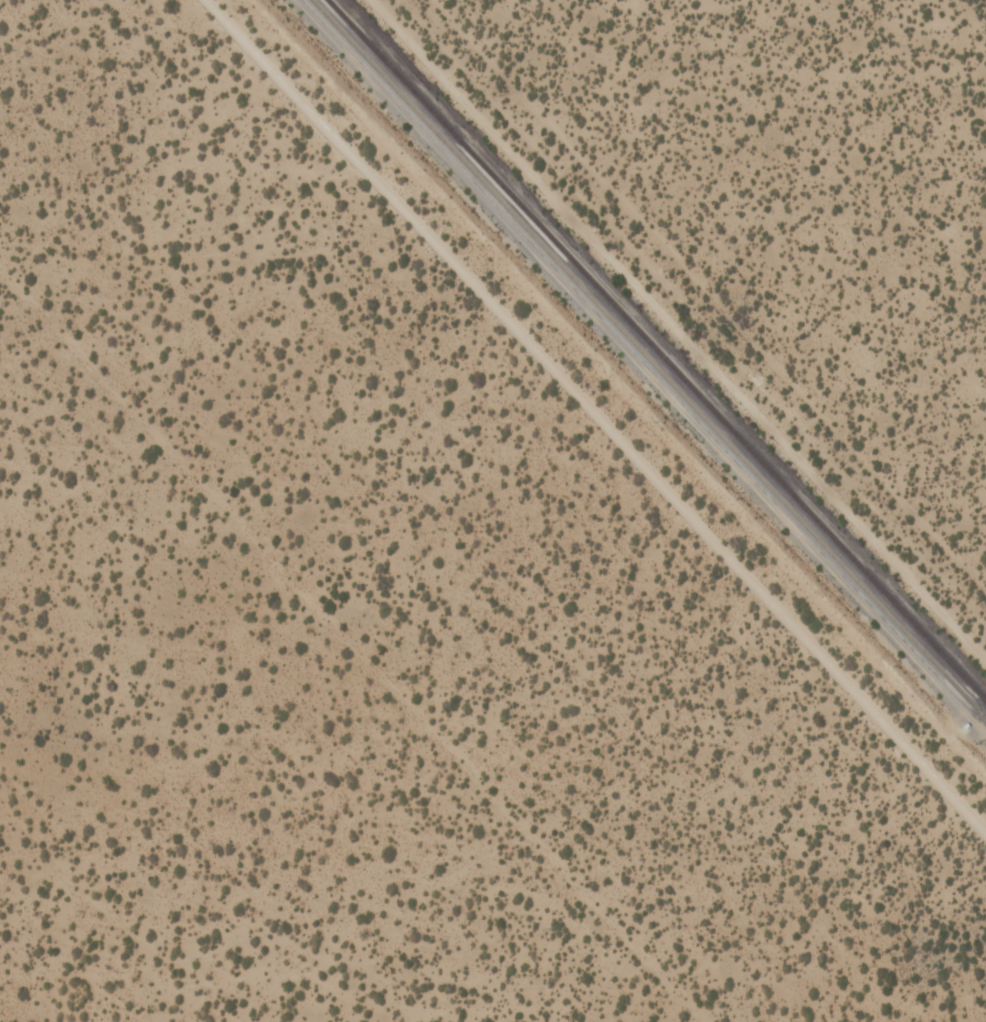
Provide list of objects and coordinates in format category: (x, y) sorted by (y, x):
road: (708, 295)
road: (670, 333)
railway: (656, 351)
railway: (647, 359)
road: (596, 416)
road: (351, 648)

